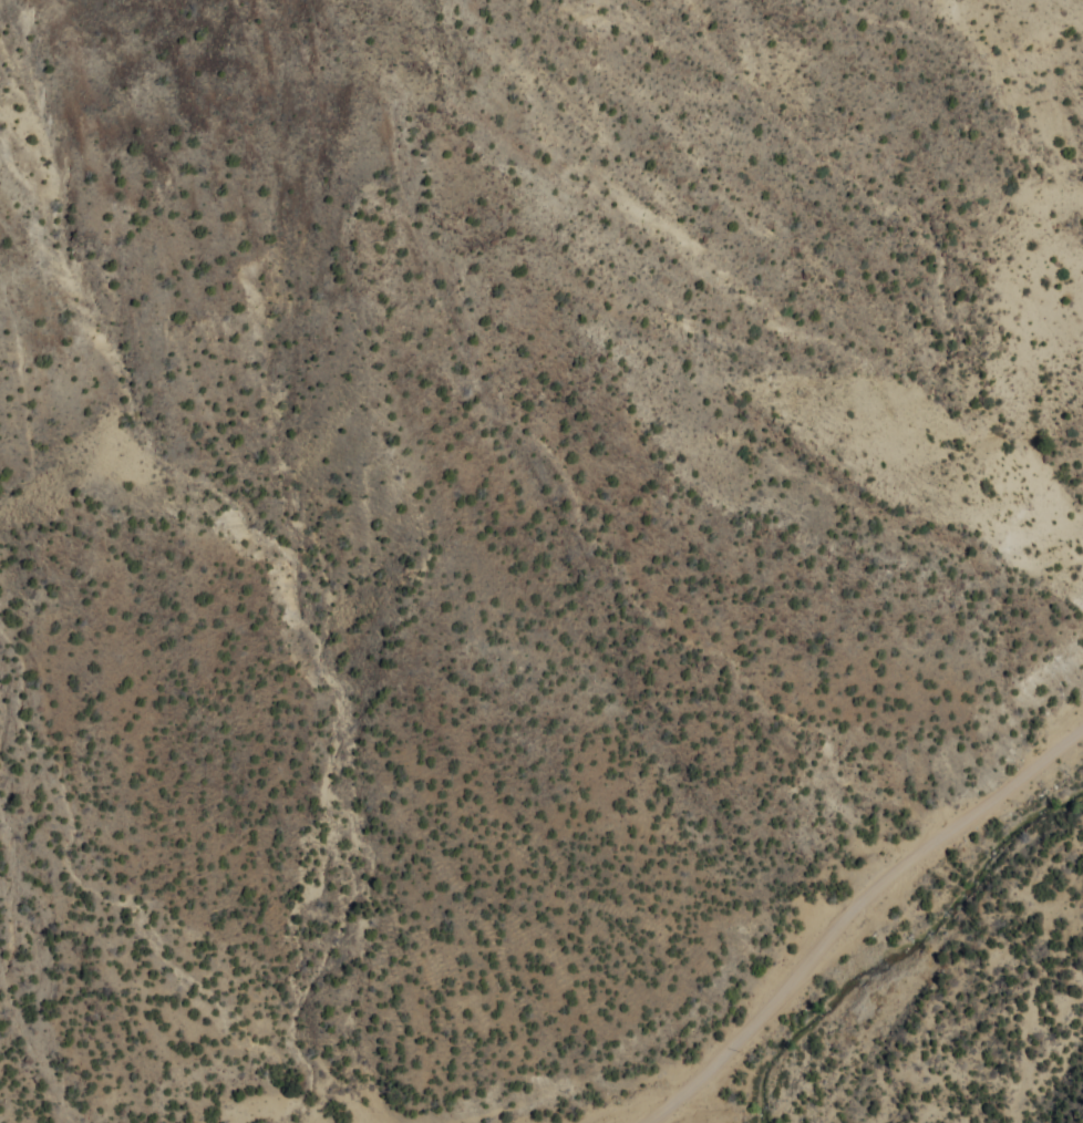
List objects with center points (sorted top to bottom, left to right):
road: (854, 916)

